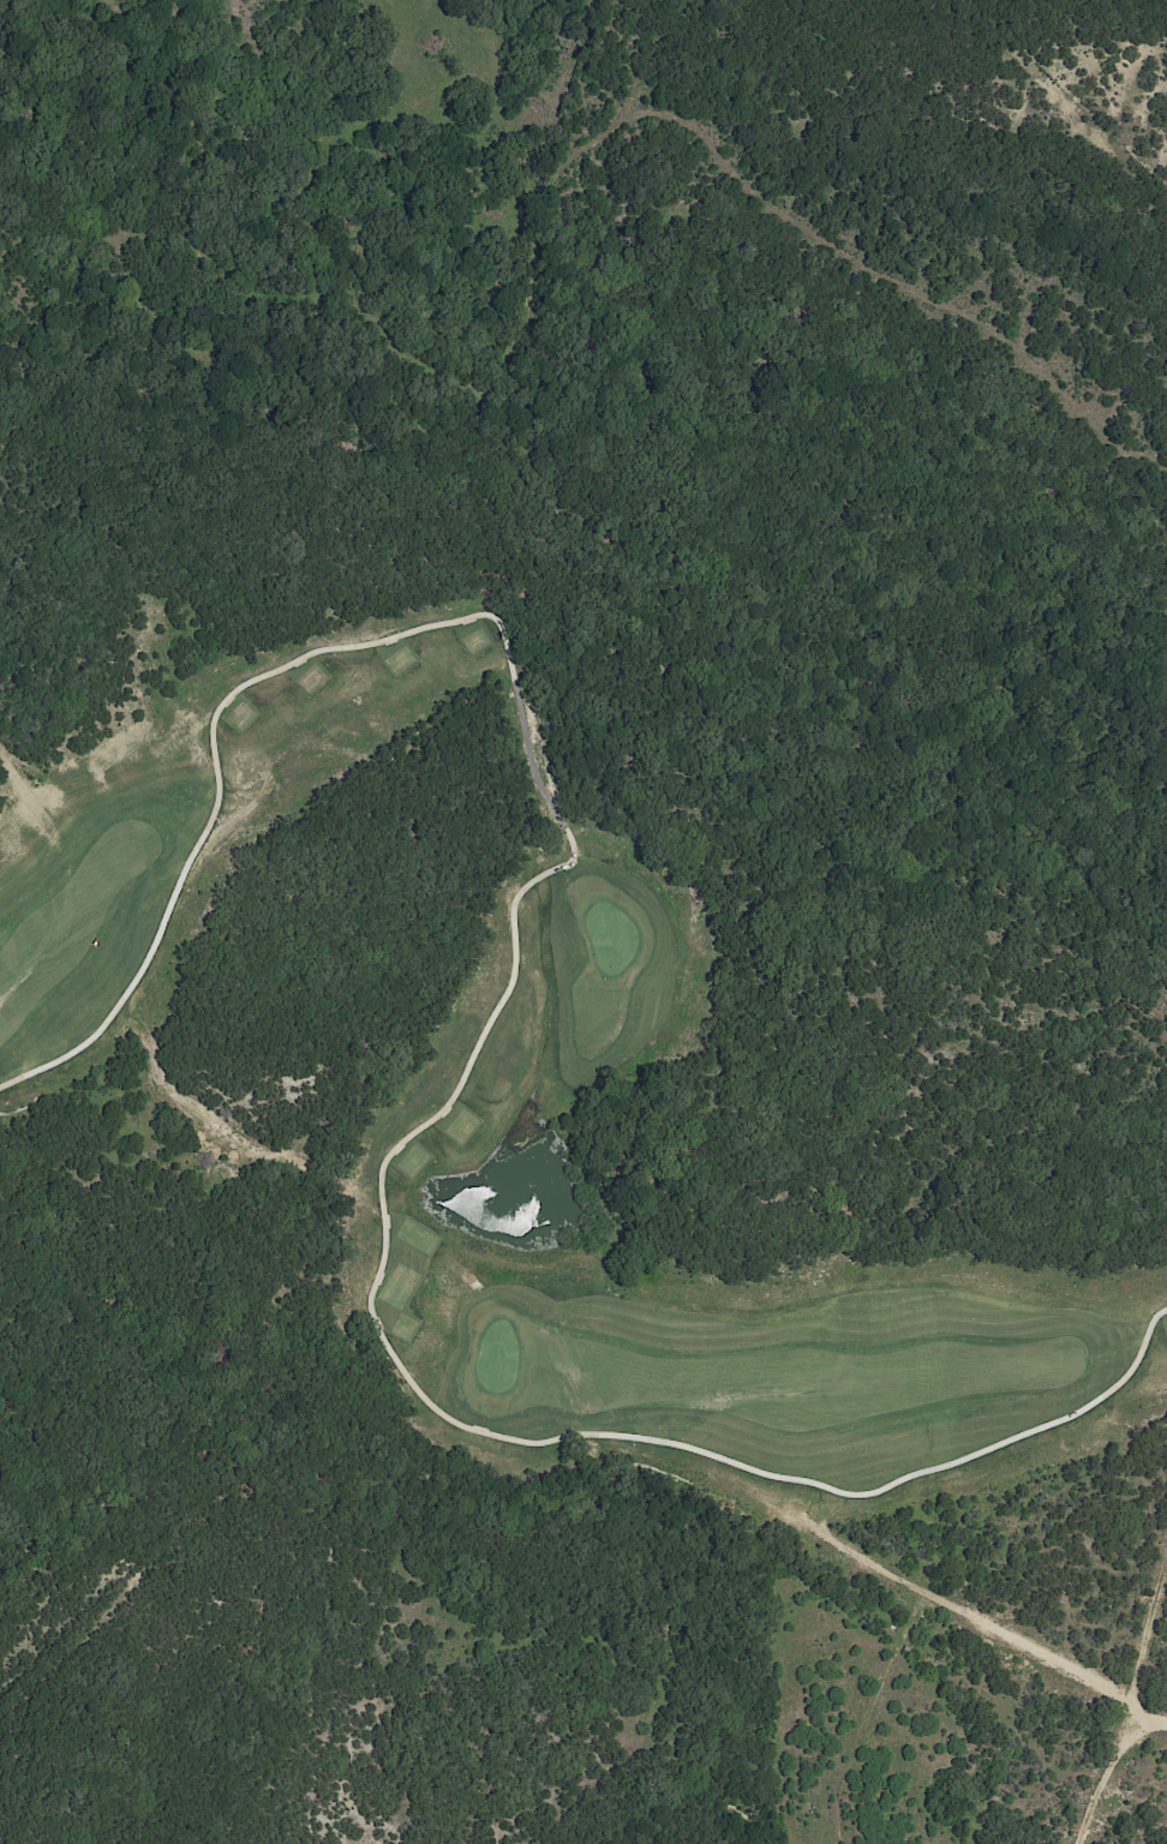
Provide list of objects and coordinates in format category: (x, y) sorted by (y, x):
road: (479, 1038)

